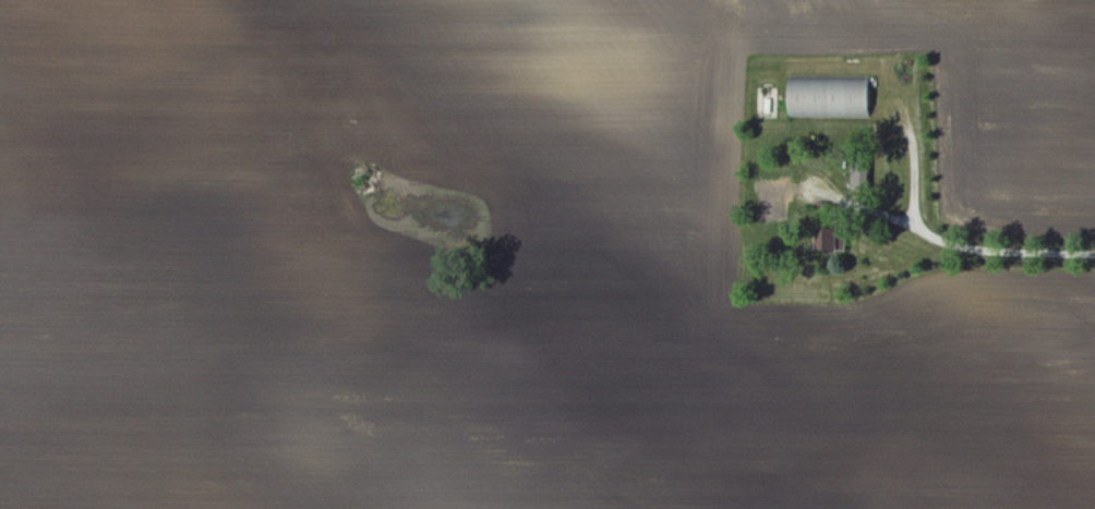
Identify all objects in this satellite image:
road: (955, 244)

